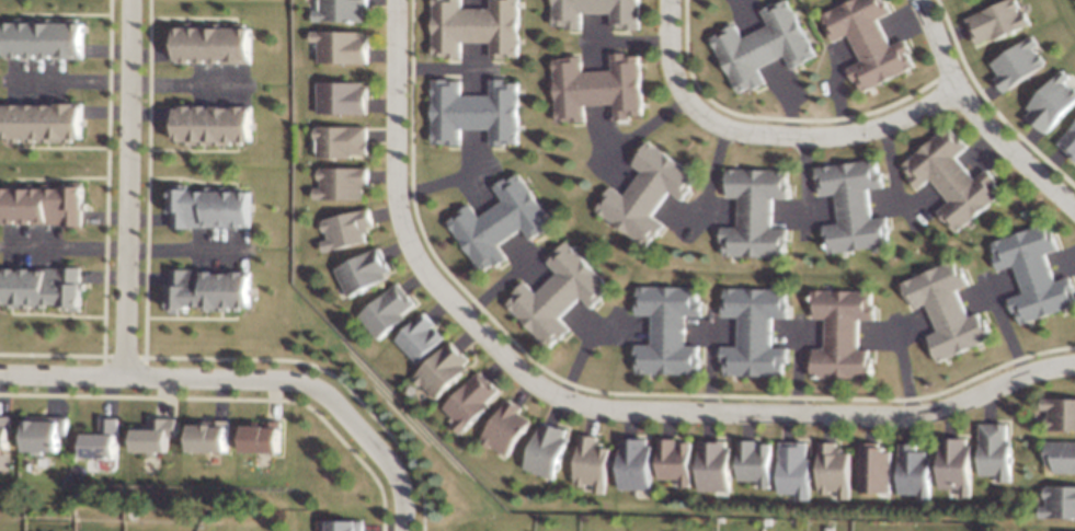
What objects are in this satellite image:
building: (343, 10)
building: (596, 12)
building: (1002, 23)
building: (474, 28)
building: (47, 39)
road: (627, 39)
building: (872, 44)
building: (211, 45)
building: (344, 46)
building: (768, 48)
building: (1022, 66)
road: (439, 68)
road: (65, 81)
road: (181, 83)
building: (601, 90)
building: (343, 97)
building: (1056, 102)
building: (473, 114)
road: (977, 115)
building: (44, 123)
building: (210, 126)
road: (643, 128)
road: (768, 135)
building: (342, 141)
building: (1068, 143)
road: (710, 173)
building: (956, 180)
road: (441, 181)
building: (342, 183)
road: (124, 187)
building: (650, 195)
building: (41, 205)
building: (851, 207)
building: (207, 208)
building: (755, 216)
building: (504, 224)
building: (348, 230)
road: (122, 247)
building: (362, 274)
building: (1036, 274)
road: (500, 282)
building: (46, 287)
building: (206, 290)
building: (560, 295)
building: (388, 310)
building: (948, 312)
building: (671, 331)
building: (757, 333)
building: (844, 336)
building: (421, 337)
building: (444, 371)
road: (249, 379)
building: (471, 400)
road: (588, 405)
building: (1057, 414)
building: (510, 427)
building: (49, 438)
building: (262, 439)
building: (209, 440)
building: (7, 442)
building: (153, 442)
building: (103, 445)
building: (549, 450)
building: (996, 451)
building: (1060, 457)
building: (755, 461)
building: (592, 462)
building: (633, 463)
building: (675, 465)
building: (716, 466)
building: (956, 466)
building: (915, 469)
building: (796, 470)
building: (835, 470)
building: (876, 471)
building: (1057, 501)
building: (348, 527)

